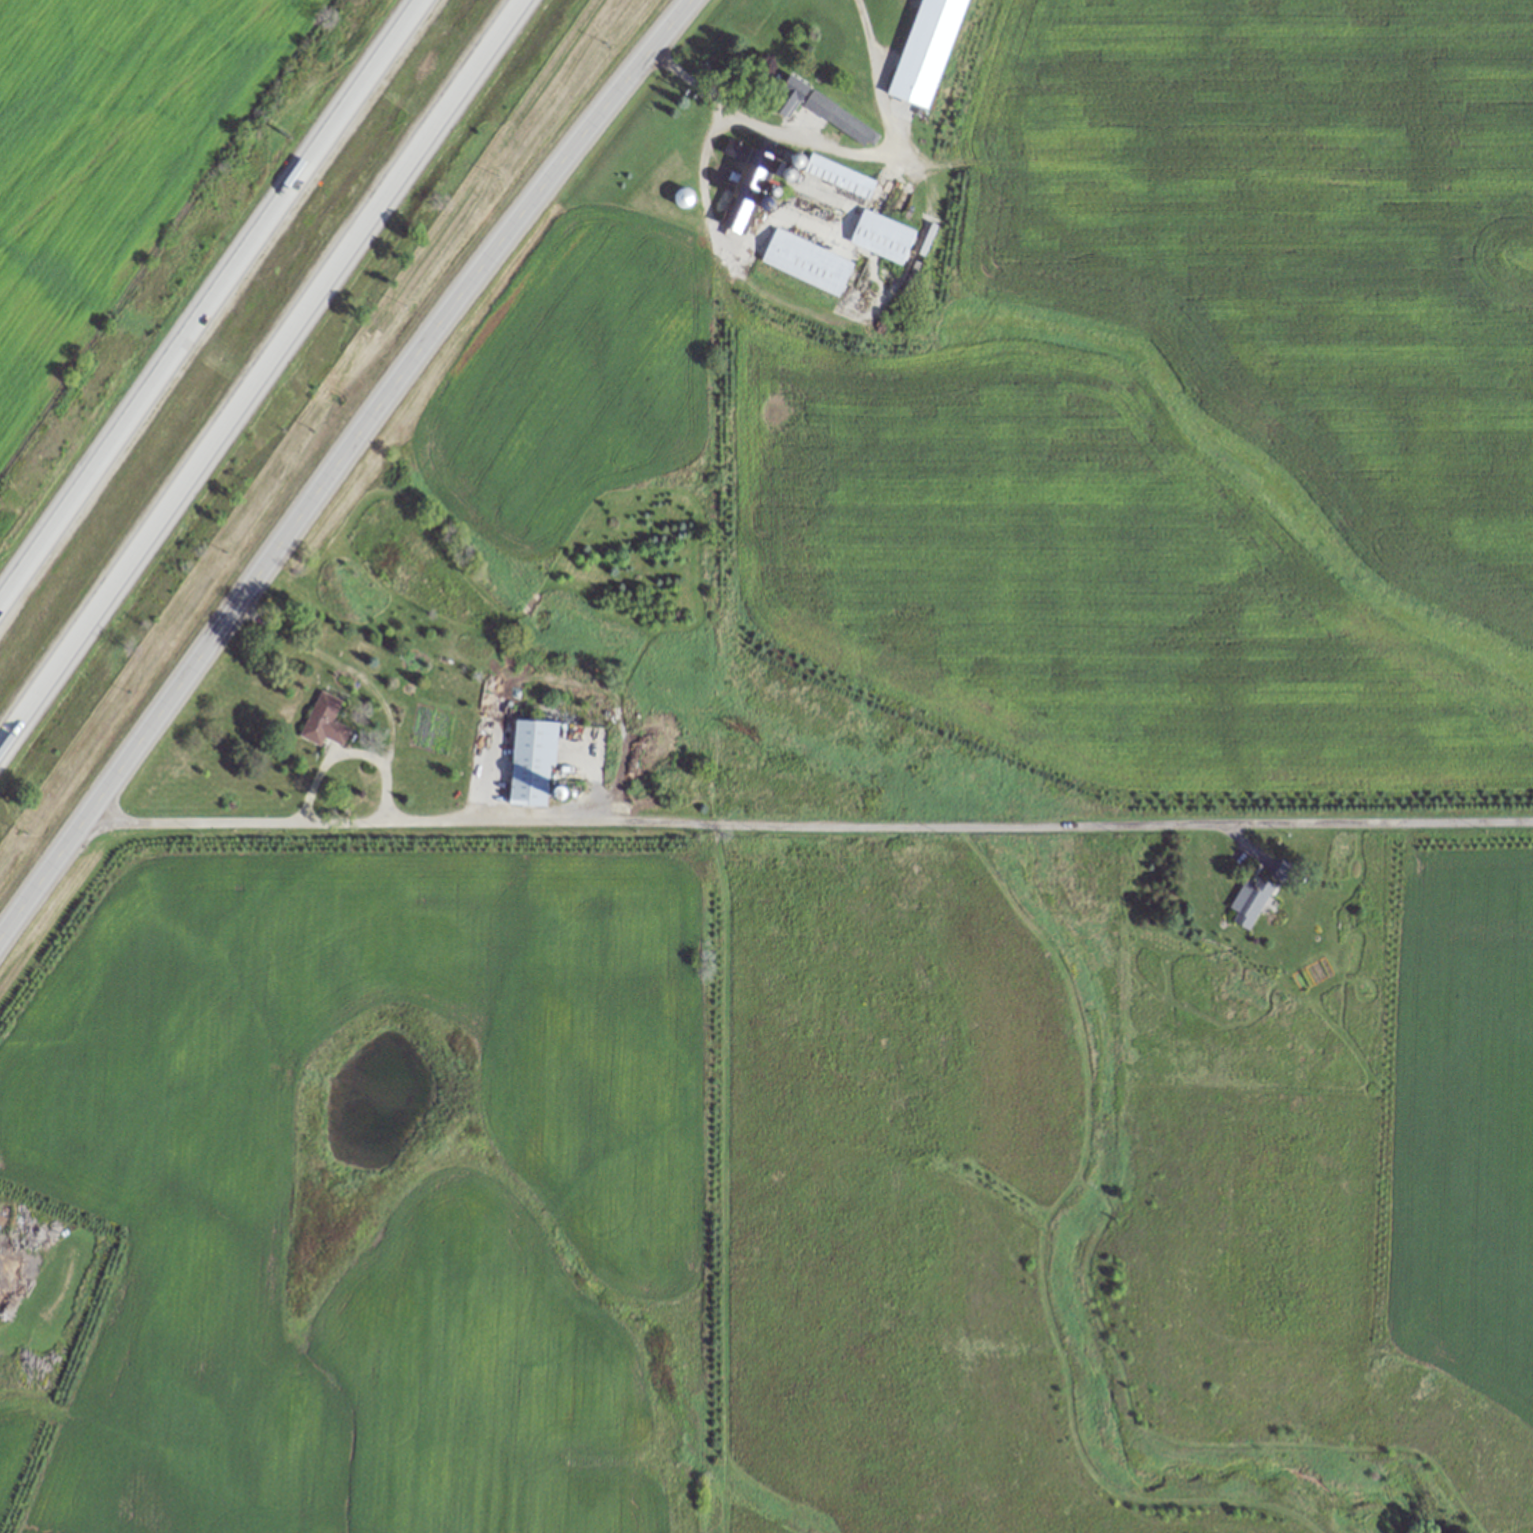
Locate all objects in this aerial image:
building: (927, 51)
building: (826, 111)
road: (836, 149)
crop: (109, 156)
building: (762, 172)
building: (833, 174)
building: (684, 198)
building: (738, 214)
building: (883, 236)
building: (807, 261)
road: (202, 290)
road: (272, 387)
road: (343, 470)
building: (324, 721)
road: (347, 749)
building: (531, 763)
road: (812, 826)
building: (1285, 872)
building: (1250, 901)

